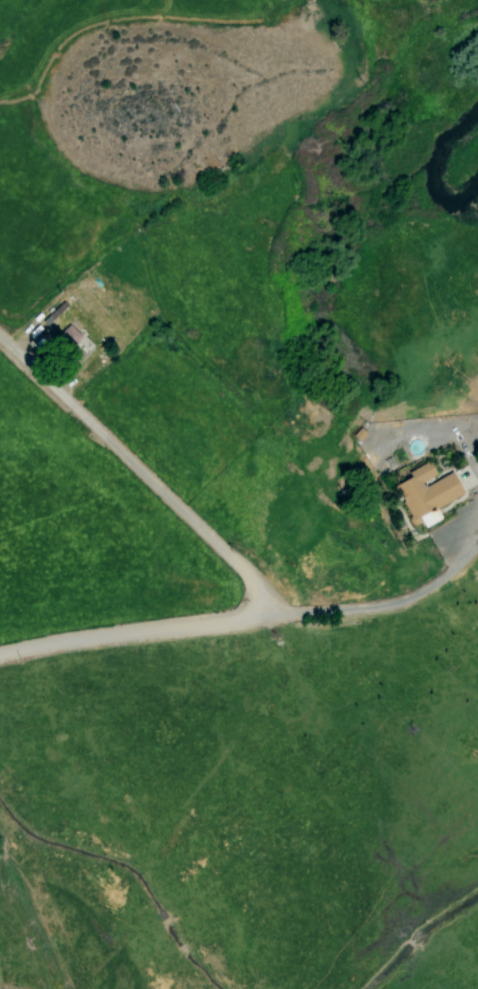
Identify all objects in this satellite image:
river: (429, 173)
building: (73, 340)
building: (427, 492)
road: (224, 552)
road: (368, 600)

